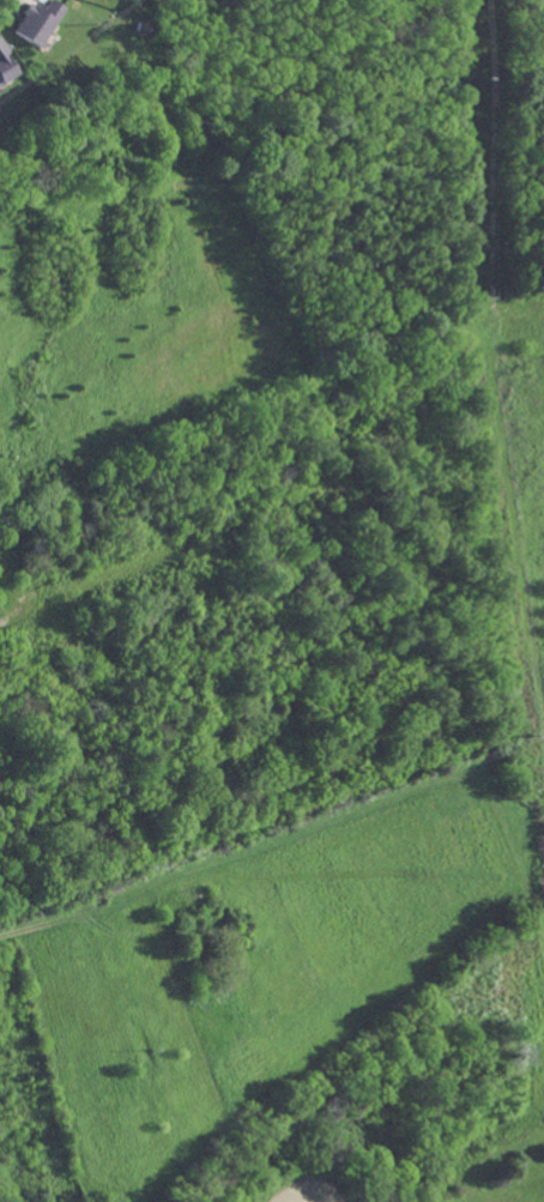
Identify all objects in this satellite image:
building: (31, 23)
building: (2, 66)

